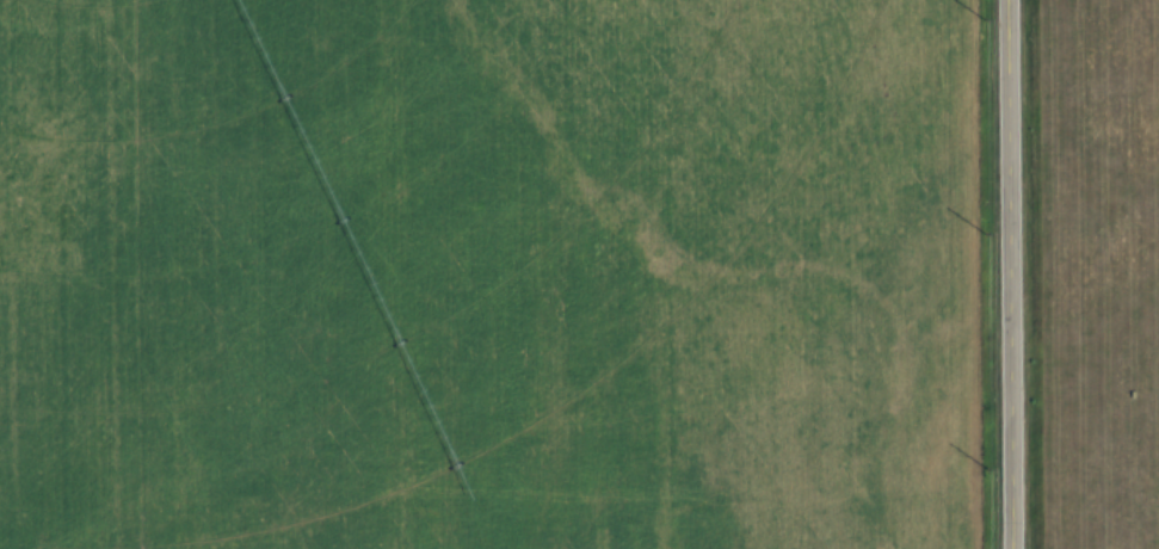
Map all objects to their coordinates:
crop: (491, 274)
road: (1012, 274)

